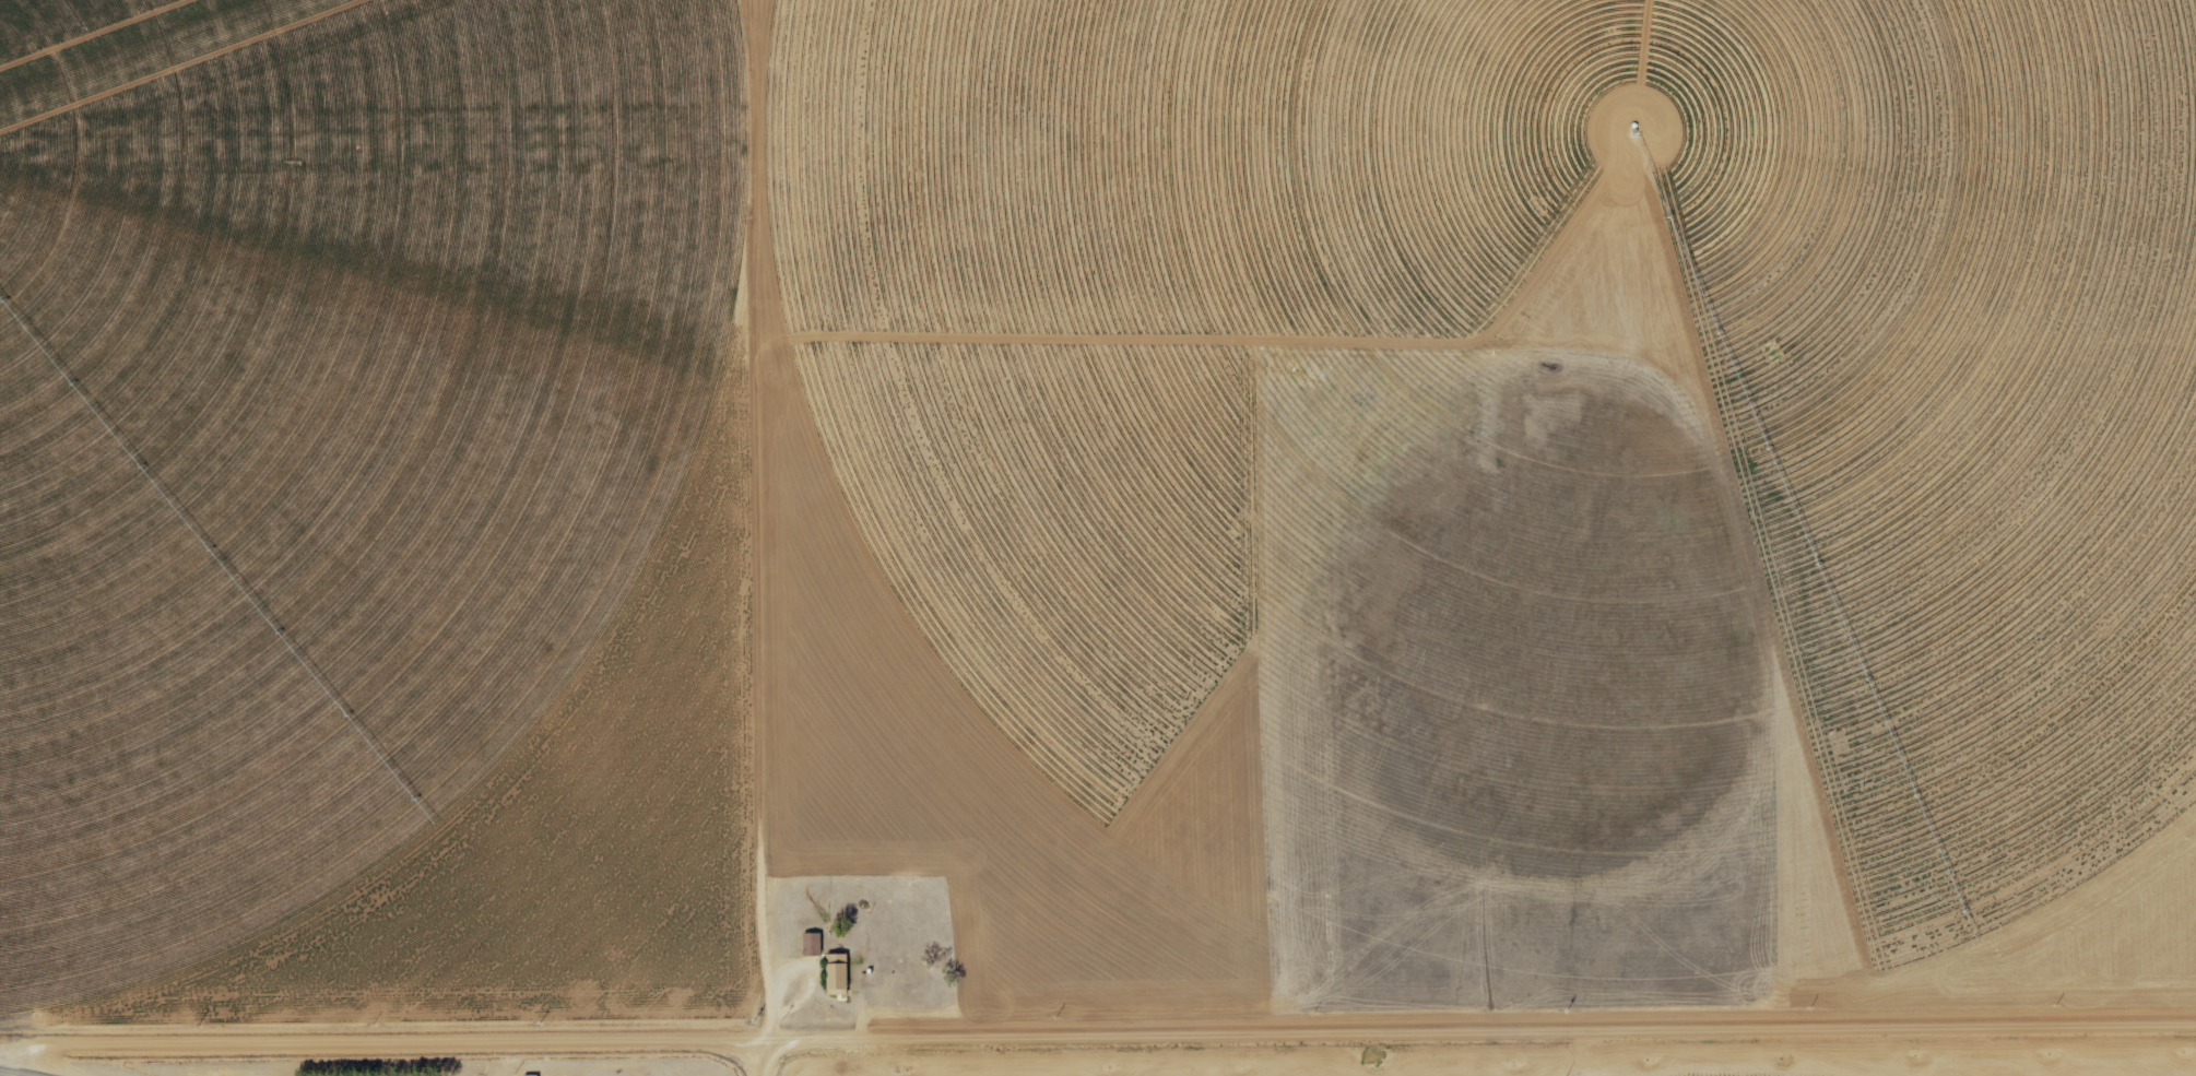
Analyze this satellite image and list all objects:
road: (754, 521)
building: (811, 944)
building: (835, 973)
road: (1097, 1039)
road: (761, 1059)

